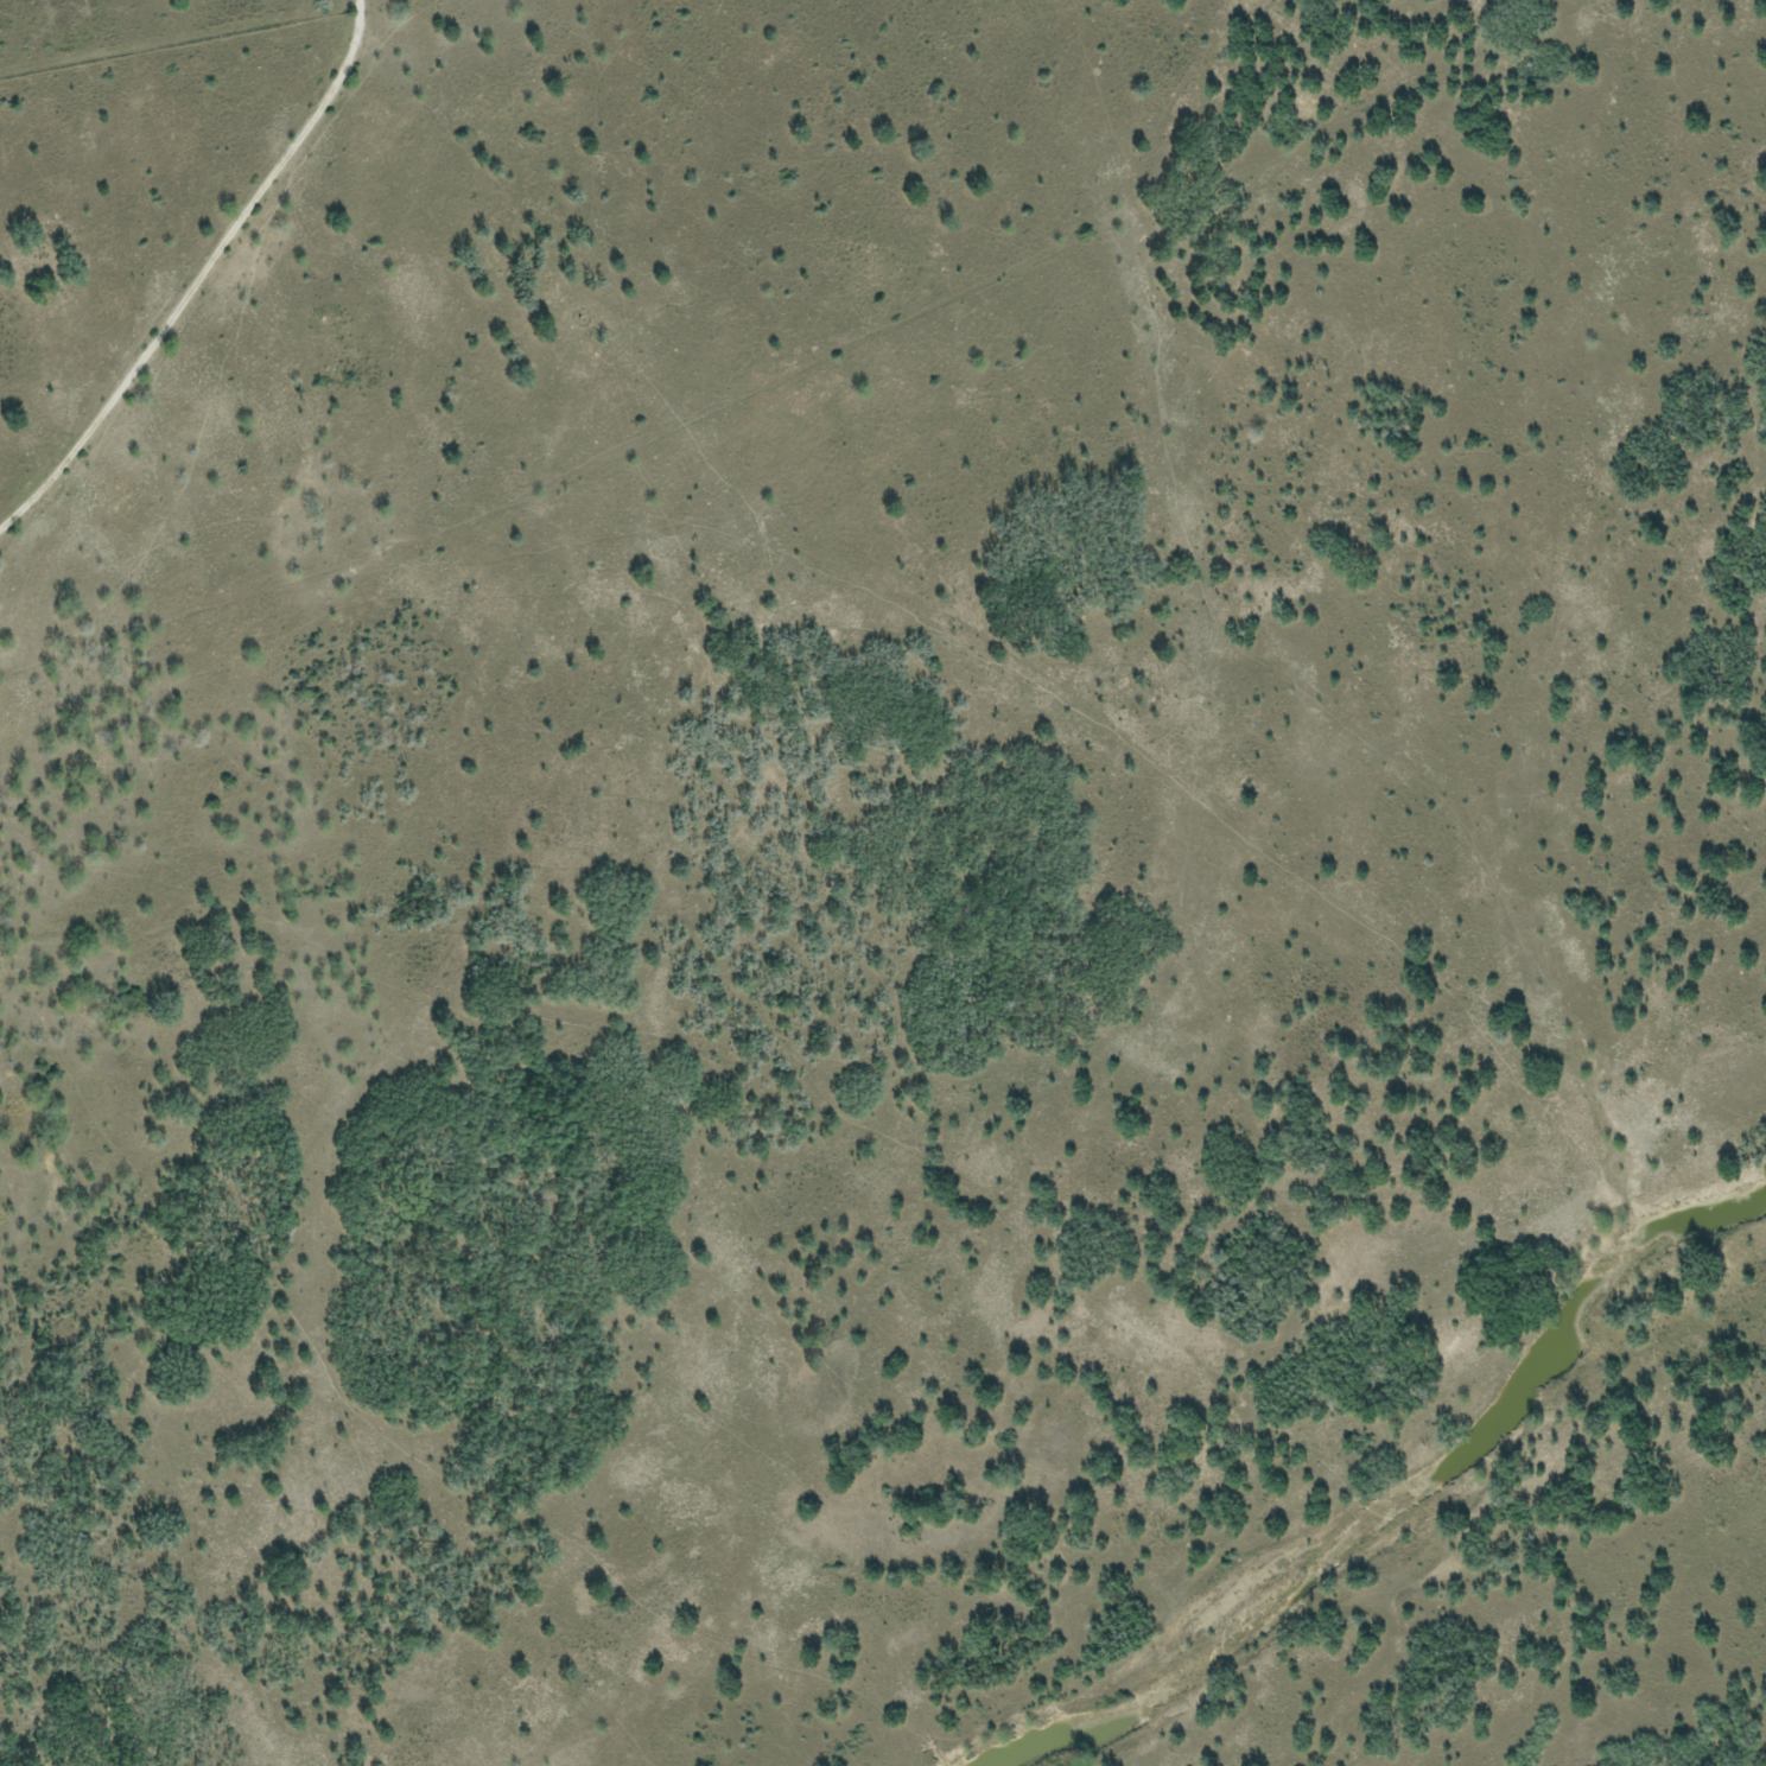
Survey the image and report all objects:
road: (609, 747)

